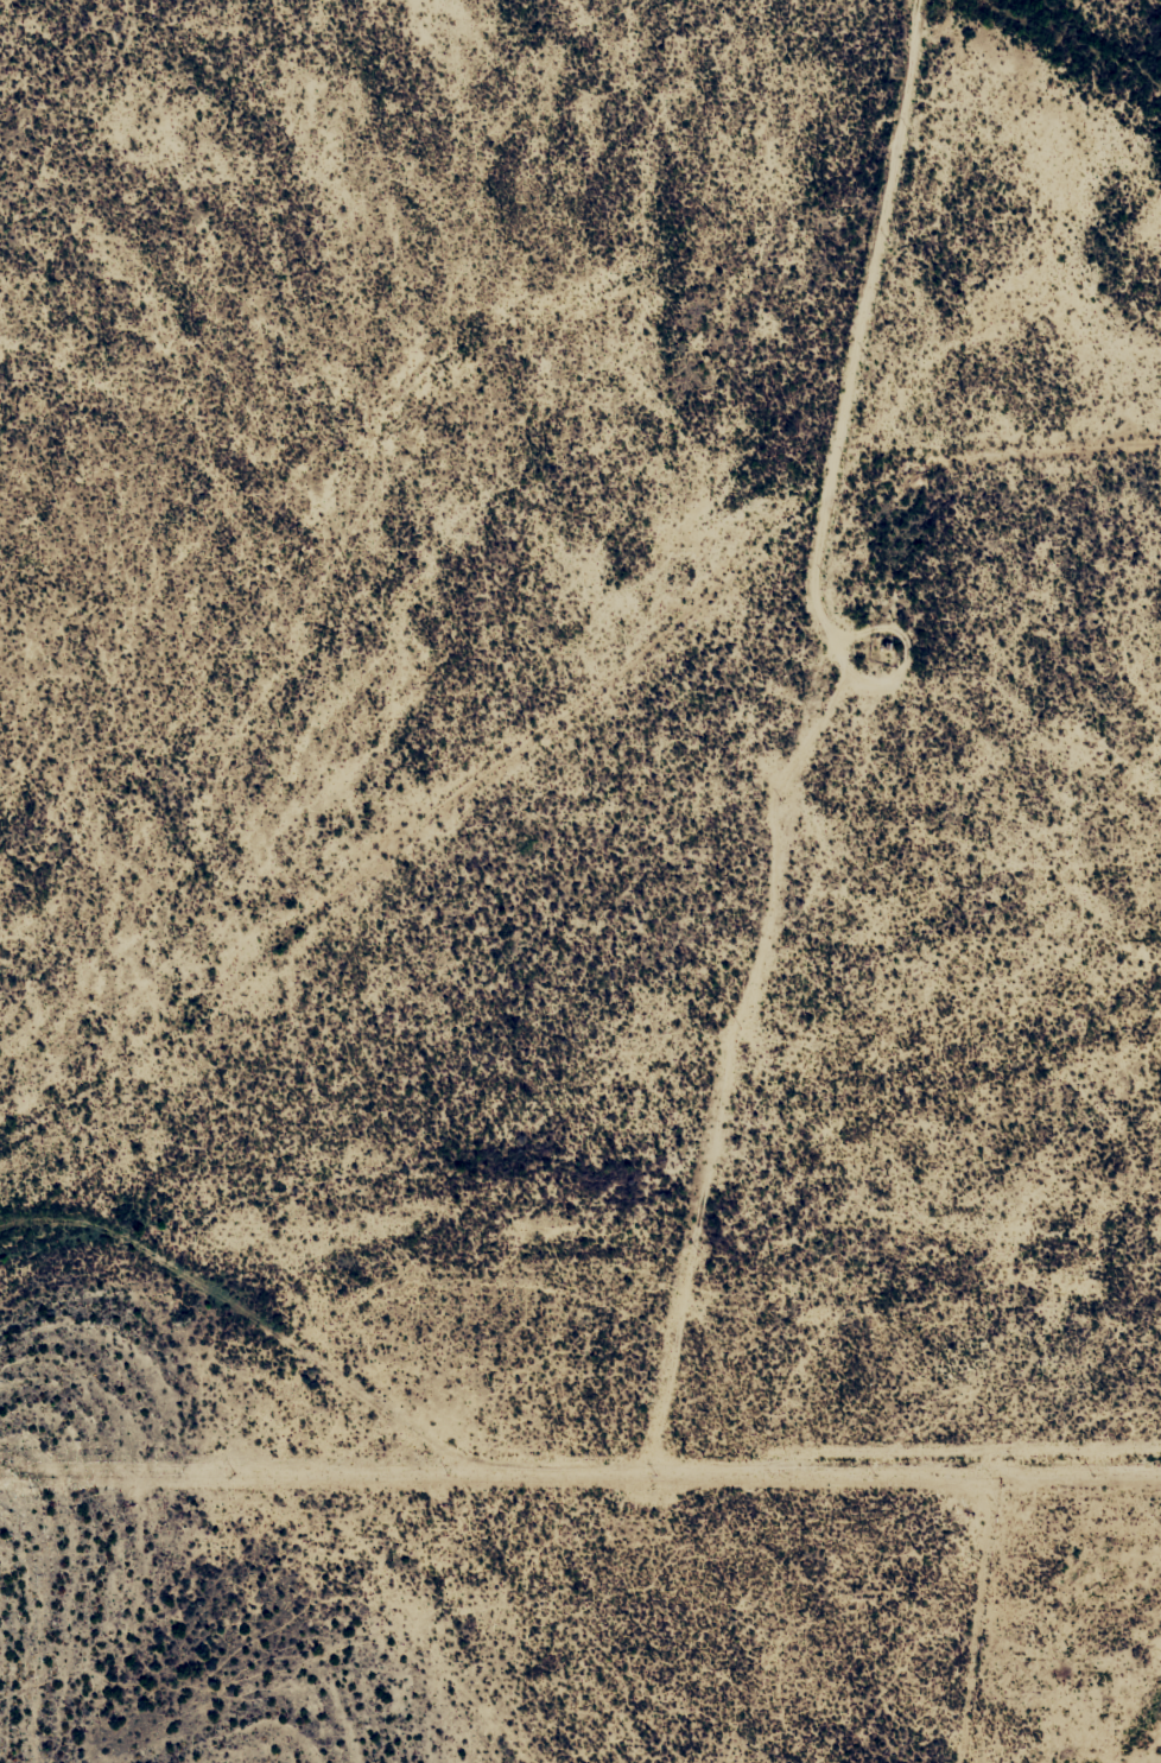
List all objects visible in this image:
road: (551, 733)

